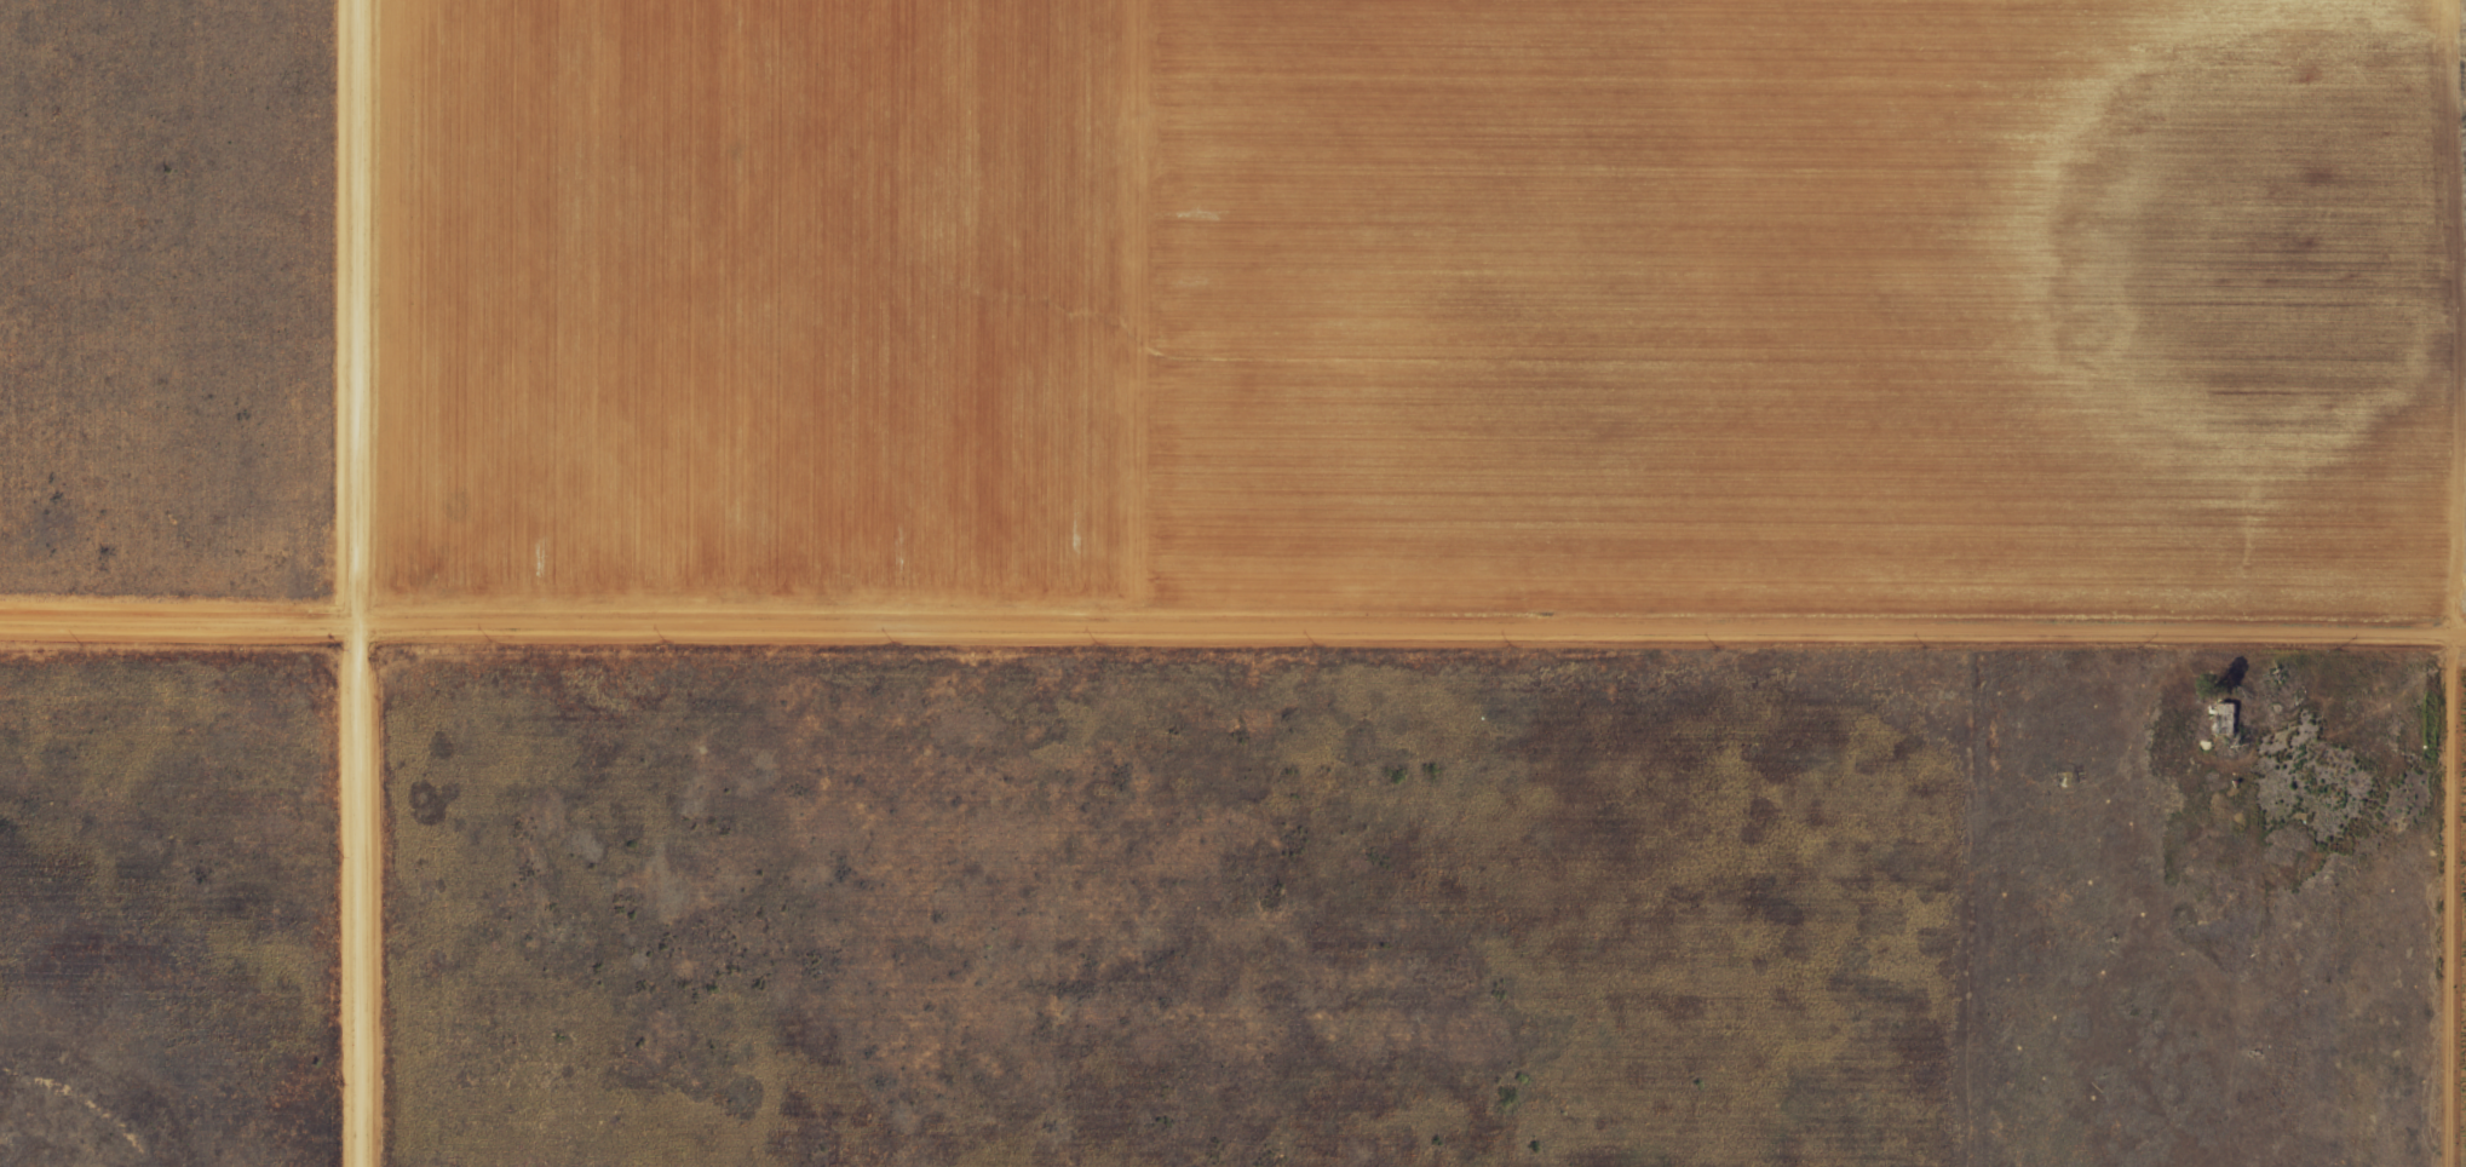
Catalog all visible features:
road: (397, 583)
road: (1232, 627)

